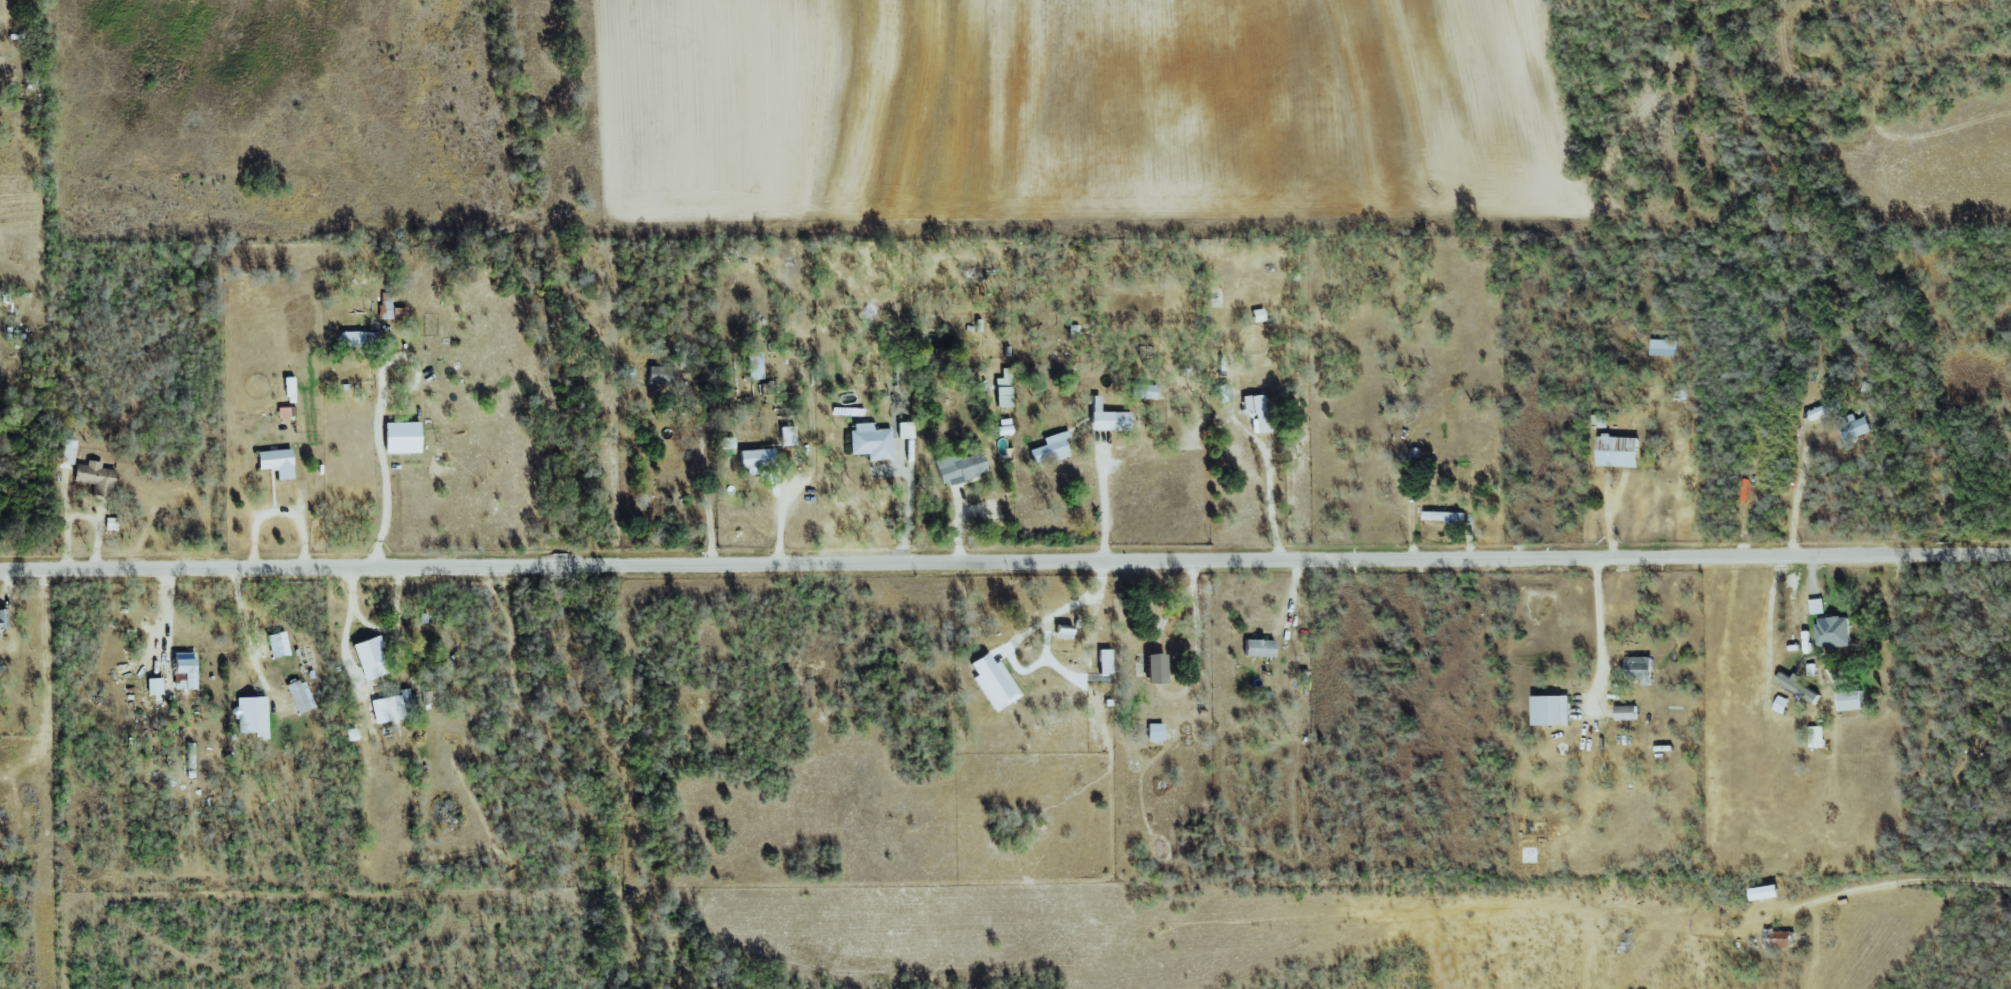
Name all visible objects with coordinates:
building: (390, 308)
building: (1258, 315)
building: (361, 339)
building: (1664, 347)
building: (755, 365)
building: (661, 376)
building: (904, 376)
building: (1004, 388)
building: (1144, 391)
building: (1224, 392)
building: (1825, 409)
building: (1255, 412)
building: (1108, 418)
building: (1004, 427)
building: (1855, 429)
building: (906, 430)
building: (788, 435)
building: (403, 437)
building: (871, 441)
building: (1051, 447)
building: (1619, 451)
building: (68, 452)
road: (385, 457)
building: (757, 460)
building: (277, 462)
building: (961, 468)
road: (709, 470)
building: (96, 477)
road: (1794, 496)
road: (1105, 498)
road: (910, 503)
road: (1266, 509)
road: (277, 512)
building: (1444, 515)
building: (110, 524)
road: (1005, 560)
building: (1818, 605)
road: (1063, 607)
road: (167, 609)
building: (3, 619)
road: (245, 628)
road: (1596, 628)
road: (377, 630)
building: (1833, 631)
building: (1064, 633)
road: (1196, 641)
building: (278, 645)
building: (1259, 648)
road: (346, 649)
building: (371, 658)
building: (1105, 661)
building: (1157, 668)
building: (1640, 668)
building: (185, 670)
building: (994, 682)
building: (1796, 685)
building: (155, 686)
building: (301, 696)
building: (1852, 700)
building: (1782, 704)
building: (397, 705)
building: (1552, 710)
building: (1627, 712)
building: (252, 716)
building: (1155, 732)
building: (1817, 736)
road: (1869, 884)
building: (1767, 891)
building: (1779, 938)

